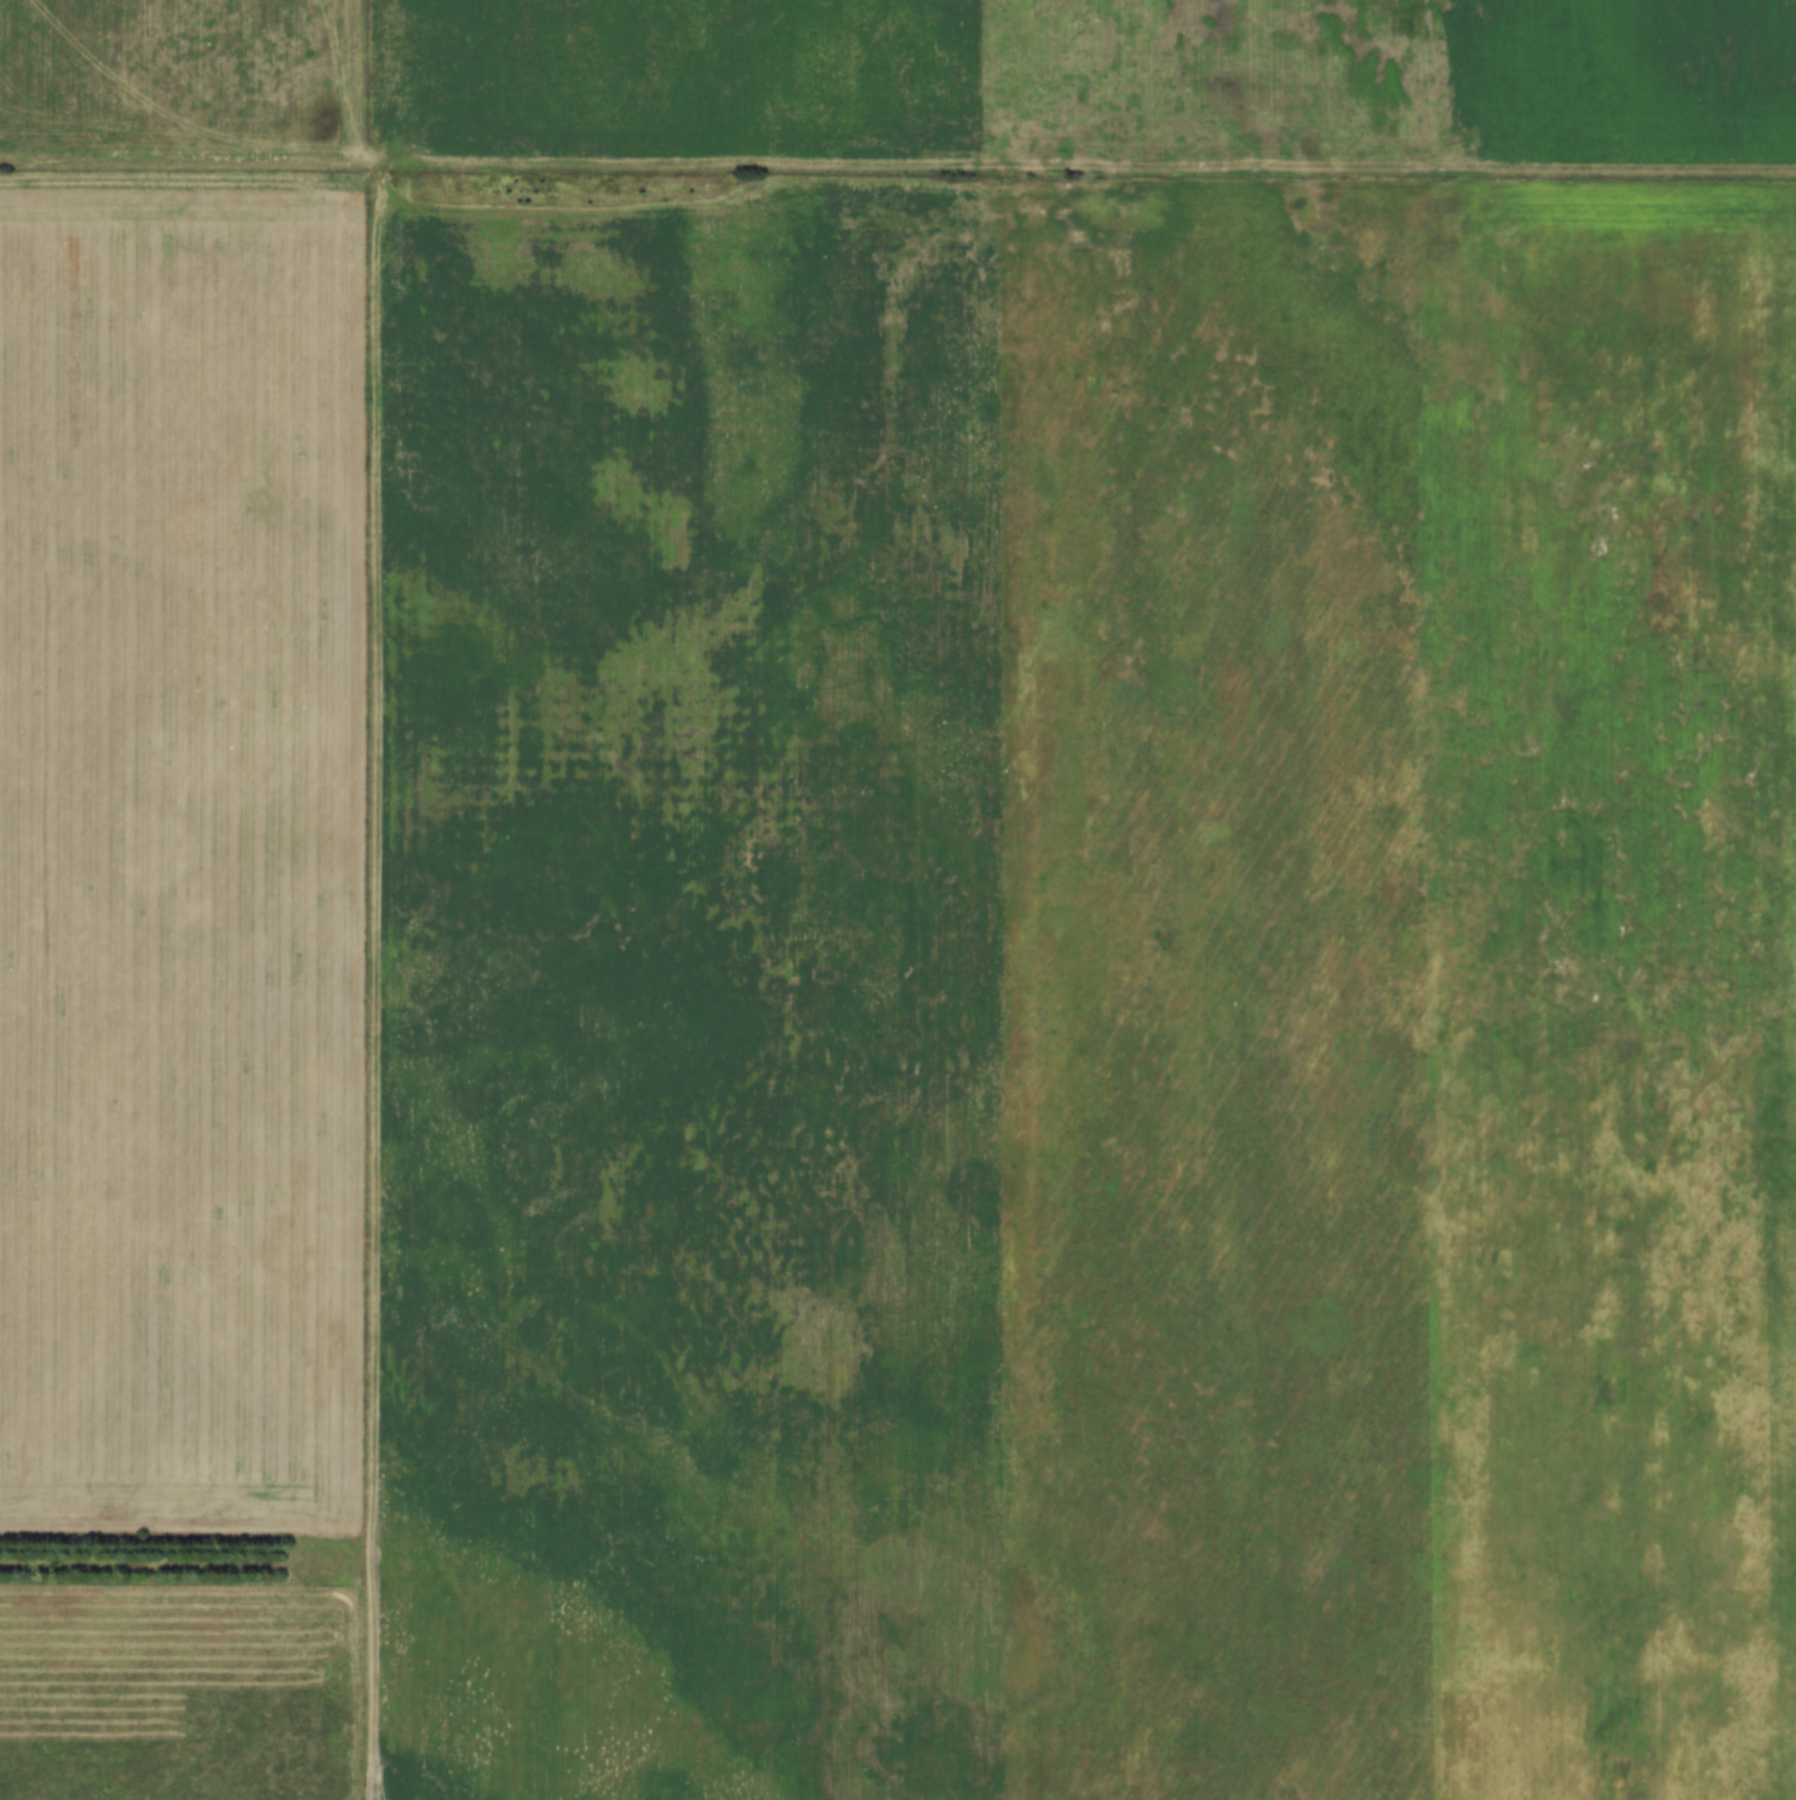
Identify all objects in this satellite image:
road: (383, 798)

